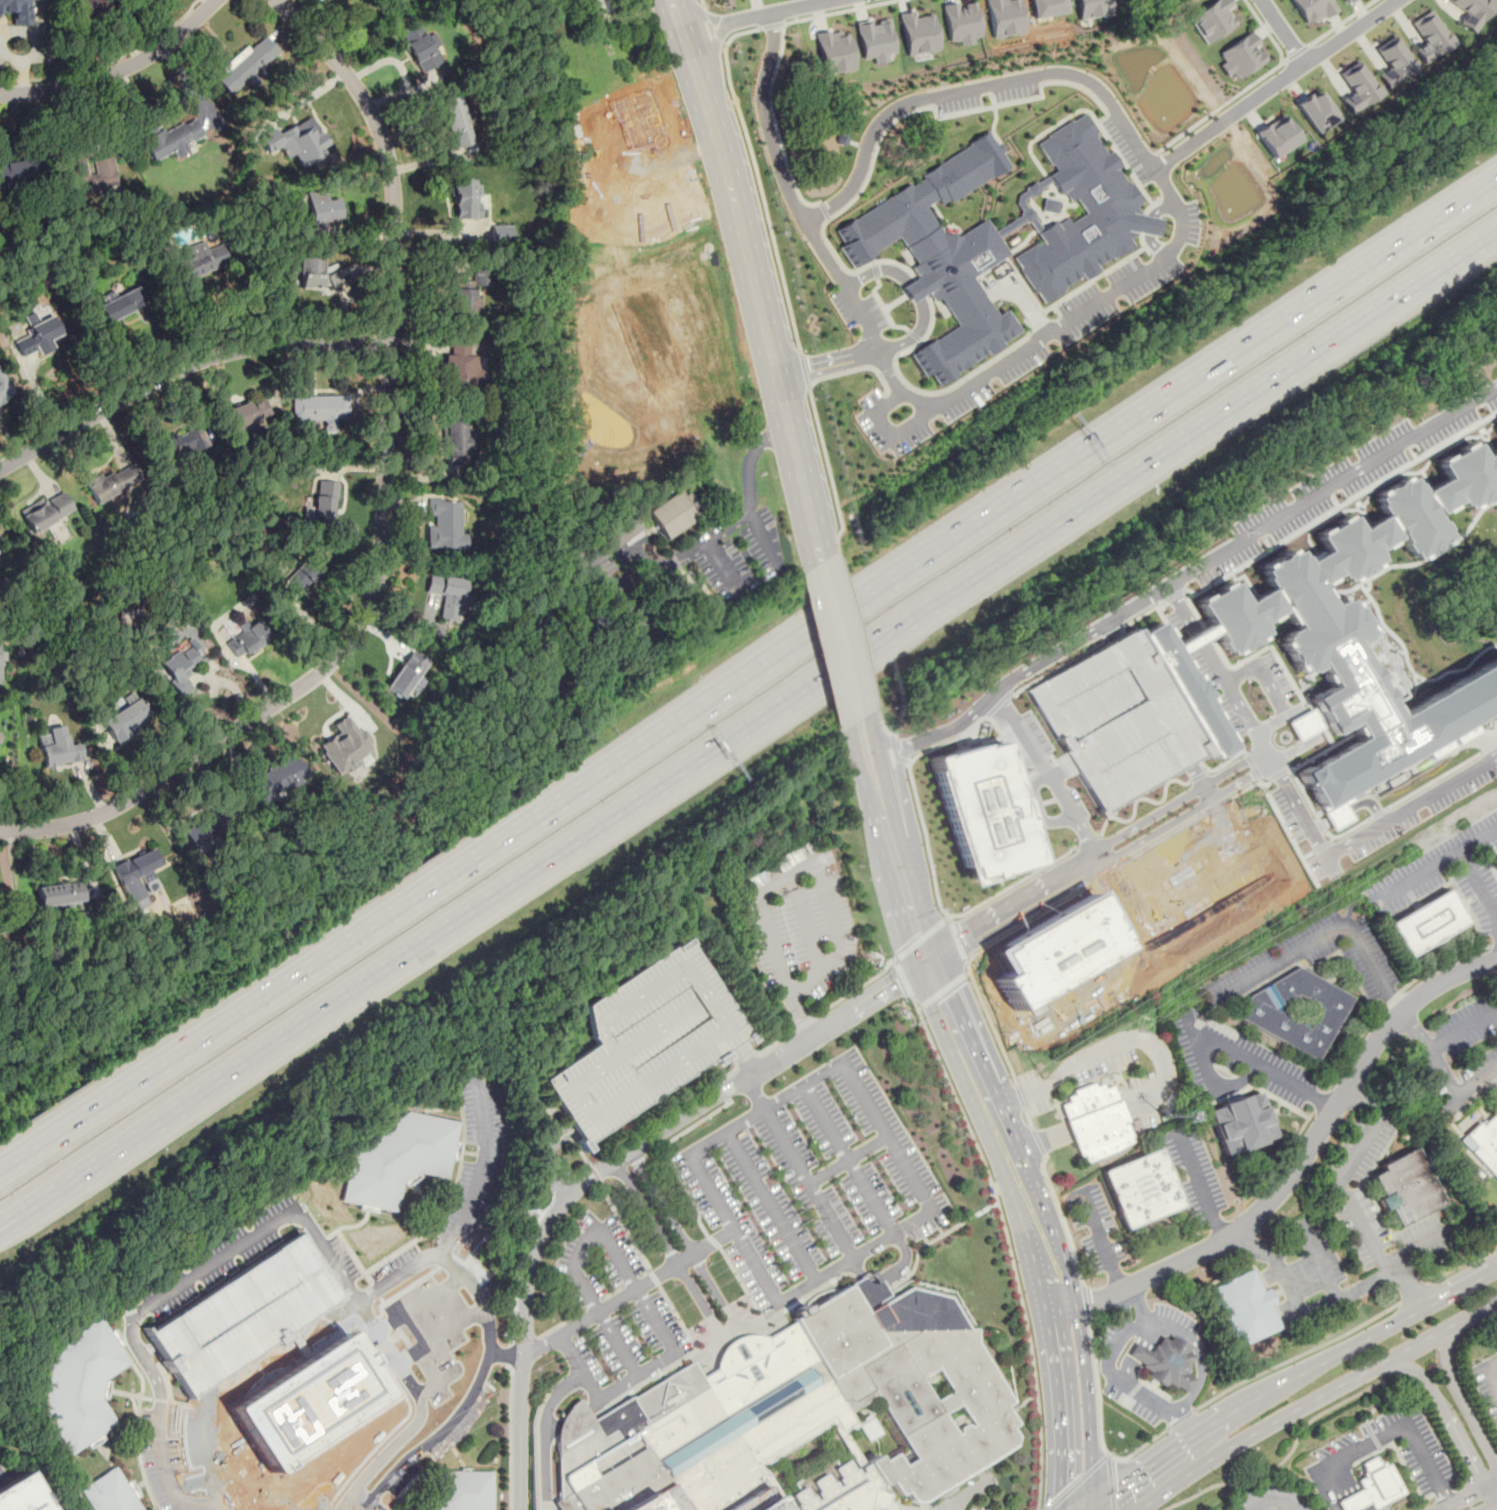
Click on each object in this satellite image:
building: (594, 5)
road: (704, 5)
building: (1048, 7)
building: (1092, 8)
building: (1312, 10)
building: (16, 11)
road: (839, 11)
building: (1472, 11)
road: (759, 16)
building: (1006, 17)
road: (677, 18)
building: (1213, 19)
building: (962, 22)
road: (1341, 22)
road: (772, 24)
road: (712, 29)
road: (1284, 31)
road: (741, 32)
building: (919, 33)
road: (33, 36)
building: (1430, 36)
building: (876, 40)
building: (420, 48)
building: (835, 52)
road: (1298, 52)
building: (1242, 56)
road: (11, 59)
road: (1284, 61)
road: (108, 62)
building: (1394, 62)
building: (247, 65)
road: (118, 71)
road: (23, 81)
road: (1275, 84)
road: (1249, 86)
building: (1358, 87)
road: (926, 97)
building: (1317, 111)
road: (767, 121)
road: (993, 121)
building: (456, 122)
road: (775, 122)
building: (1278, 136)
building: (173, 140)
building: (297, 140)
building: (18, 173)
building: (92, 174)
building: (465, 199)
road: (764, 199)
road: (852, 201)
building: (323, 209)
road: (824, 210)
building: (1078, 211)
building: (509, 234)
building: (941, 256)
building: (201, 261)
road: (1112, 266)
road: (875, 269)
building: (314, 275)
road: (1125, 283)
road: (915, 291)
road: (758, 299)
building: (465, 304)
building: (121, 306)
road: (884, 308)
road: (1036, 314)
road: (914, 335)
building: (38, 338)
road: (828, 361)
building: (457, 364)
road: (182, 366)
road: (805, 369)
road: (855, 370)
road: (887, 371)
road: (981, 378)
building: (3, 394)
building: (318, 409)
building: (246, 414)
building: (1496, 422)
road: (889, 434)
building: (457, 442)
building: (179, 447)
road: (748, 458)
road: (829, 468)
building: (113, 483)
road: (1329, 485)
building: (318, 508)
road: (383, 508)
building: (47, 511)
building: (674, 512)
building: (445, 524)
building: (620, 533)
road: (656, 564)
road: (777, 568)
building: (299, 579)
road: (891, 585)
road: (610, 593)
building: (448, 595)
building: (1322, 626)
road: (860, 633)
building: (250, 637)
road: (841, 645)
building: (2, 649)
building: (179, 667)
building: (406, 673)
road: (1015, 675)
road: (1266, 688)
building: (1180, 690)
building: (124, 718)
building: (1112, 721)
parking garage: (1112, 721)
road: (747, 723)
road: (885, 729)
road: (863, 739)
building: (346, 745)
building: (57, 746)
road: (896, 752)
road: (1262, 757)
road: (1221, 761)
road: (1056, 769)
road: (1192, 773)
road: (1195, 776)
building: (271, 784)
road: (1202, 792)
road: (1136, 798)
road: (1292, 804)
road: (1036, 810)
building: (982, 811)
road: (920, 814)
road: (1028, 816)
building: (1287, 819)
building: (202, 831)
road: (1085, 841)
road: (1089, 857)
building: (1496, 857)
road: (1435, 863)
building: (135, 873)
road: (1014, 883)
road: (1477, 885)
building: (58, 893)
road: (1027, 922)
building: (1426, 922)
road: (1496, 922)
road: (803, 923)
traffic signals: (916, 934)
road: (1325, 934)
road: (919, 939)
road: (957, 940)
road: (1493, 945)
building: (1051, 951)
road: (833, 955)
road: (902, 979)
road: (1357, 982)
traffic signals: (898, 983)
power tower: (1188, 983)
road: (856, 989)
road: (942, 989)
road: (1391, 999)
traffic signals: (943, 1000)
building: (1295, 1011)
road: (800, 1017)
road: (803, 1023)
road: (991, 1024)
road: (1416, 1029)
road: (1463, 1031)
road: (957, 1034)
building: (644, 1040)
parking garage: (644, 1040)
road: (1222, 1041)
road: (774, 1042)
road: (1092, 1055)
road: (743, 1059)
road: (143, 1080)
road: (1456, 1092)
road: (754, 1095)
road: (1020, 1097)
road: (1279, 1100)
road: (1319, 1100)
road: (1028, 1118)
building: (1096, 1120)
building: (1239, 1120)
road: (1038, 1142)
building: (1486, 1143)
building: (397, 1157)
road: (666, 1157)
road: (542, 1158)
road: (1282, 1160)
road: (1301, 1160)
road: (847, 1161)
road: (849, 1162)
road: (609, 1165)
road: (595, 1172)
road: (809, 1184)
road: (1200, 1184)
building: (1403, 1187)
building: (1142, 1188)
road: (1351, 1206)
road: (771, 1207)
road: (932, 1211)
road: (646, 1214)
road: (1061, 1218)
road: (458, 1226)
road: (622, 1226)
road: (684, 1239)
road: (934, 1239)
road: (1099, 1240)
road: (713, 1241)
road: (1008, 1246)
road: (1461, 1265)
road: (739, 1279)
road: (1363, 1283)
road: (632, 1285)
road: (1410, 1286)
road: (1413, 1293)
road: (630, 1294)
road: (1084, 1301)
road: (700, 1302)
road: (1317, 1305)
road: (1130, 1307)
building: (1243, 1309)
road: (561, 1322)
road: (1162, 1322)
road: (1470, 1330)
road: (1441, 1331)
road: (524, 1340)
road: (1114, 1349)
road: (415, 1350)
road: (1142, 1350)
road: (505, 1352)
road: (509, 1355)
road: (751, 1356)
road: (1295, 1356)
building: (1164, 1361)
power tower: (564, 1367)
road: (1489, 1371)
road: (1201, 1372)
road: (438, 1381)
road: (1288, 1382)
building: (83, 1383)
road: (1150, 1394)
road: (1377, 1402)
building: (310, 1403)
road: (1464, 1405)
road: (1088, 1406)
road: (1058, 1409)
road: (1446, 1416)
road: (1181, 1419)
building: (802, 1420)
road: (1099, 1423)
road: (1184, 1423)
road: (1402, 1423)
road: (440, 1432)
road: (1258, 1432)
road: (1372, 1434)
road: (509, 1436)
road: (1291, 1449)
road: (1108, 1455)
road: (378, 1461)
parking lot: (2, 1464)
parking lot: (1383, 1464)
road: (2, 1480)
road: (1077, 1482)
road: (1110, 1483)
road: (1496, 1484)
road: (1342, 1486)
building: (1373, 1486)
building: (462, 1489)
traffic signals: (1117, 1489)
traffic signals: (1060, 1492)
building: (106, 1493)
building: (23, 1494)
road: (363, 1495)
road: (1467, 1496)
parking lot: (1272, 1497)
road: (1273, 1499)
road: (368, 1505)
road: (376, 1505)
road: (1489, 1506)
road: (1450, 1507)

